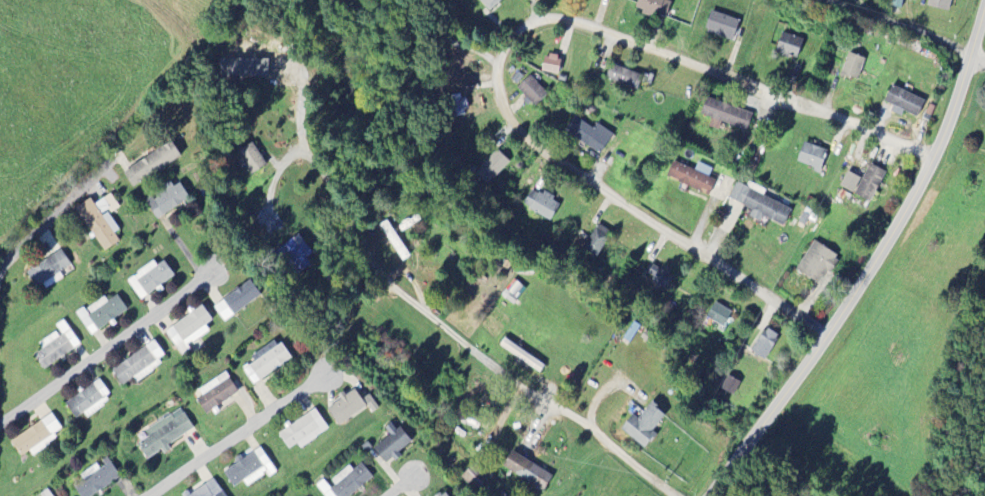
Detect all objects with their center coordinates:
building: (490, 4)
building: (939, 4)
building: (654, 8)
road: (862, 8)
road: (896, 25)
building: (721, 27)
road: (424, 35)
building: (789, 46)
road: (511, 48)
road: (977, 59)
building: (246, 61)
road: (740, 64)
building: (551, 65)
building: (852, 67)
building: (623, 77)
building: (532, 92)
building: (904, 103)
building: (459, 106)
building: (725, 116)
road: (300, 122)
building: (589, 135)
building: (811, 157)
building: (251, 159)
building: (151, 165)
building: (492, 168)
building: (692, 178)
building: (863, 184)
building: (166, 200)
building: (759, 204)
building: (541, 205)
building: (100, 222)
building: (597, 242)
road: (27, 250)
building: (296, 256)
road: (202, 258)
building: (817, 263)
road: (874, 267)
building: (48, 272)
building: (659, 278)
building: (149, 280)
building: (513, 293)
building: (237, 302)
building: (101, 315)
building: (718, 316)
building: (189, 331)
building: (764, 345)
building: (56, 346)
road: (110, 351)
road: (468, 354)
building: (521, 356)
building: (267, 362)
building: (140, 365)
building: (730, 386)
building: (215, 394)
building: (89, 401)
building: (350, 408)
building: (643, 427)
building: (304, 431)
building: (165, 434)
road: (249, 437)
building: (37, 438)
building: (392, 445)
building: (249, 470)
building: (527, 473)
building: (474, 478)
building: (96, 480)
building: (345, 482)
road: (404, 485)
building: (208, 490)
building: (46, 494)
building: (444, 494)
road: (710, 495)

